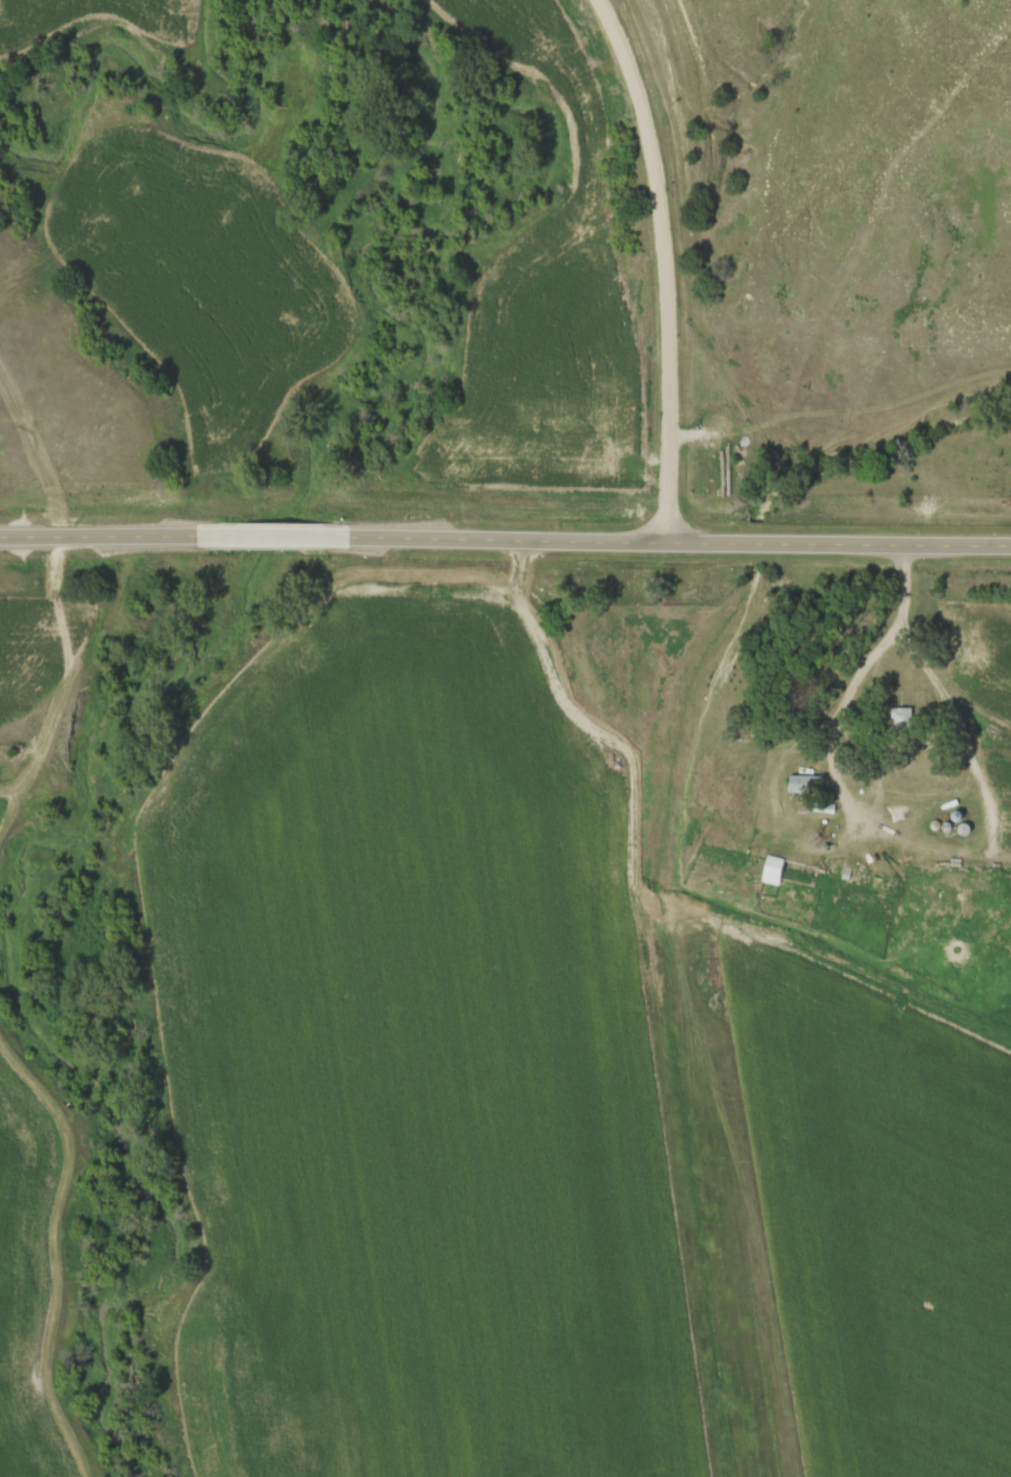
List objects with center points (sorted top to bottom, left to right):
road: (665, 265)
road: (108, 537)
road: (281, 538)
road: (677, 541)
road: (897, 585)
building: (897, 721)
building: (802, 785)
road: (923, 812)
crop: (9, 835)
building: (769, 871)
crop: (426, 1080)
crop: (880, 1227)
crop: (29, 1281)

